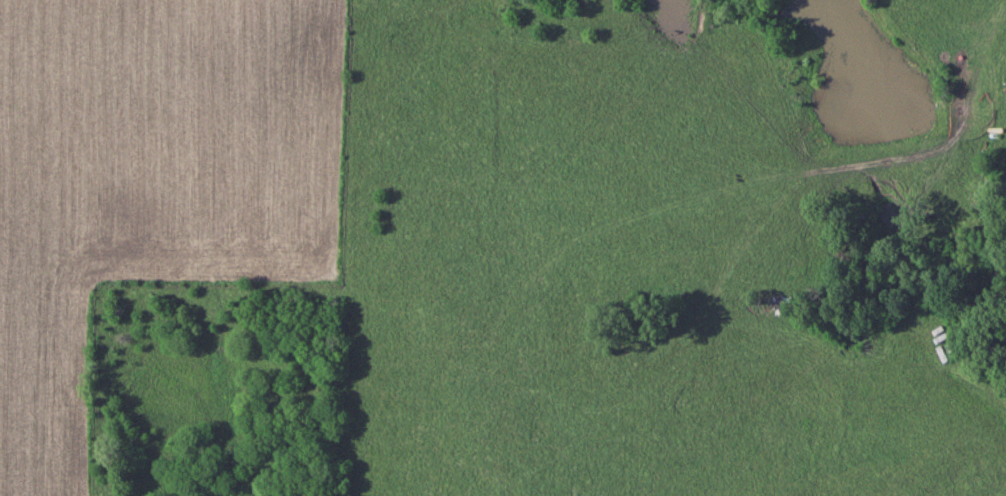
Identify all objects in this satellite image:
crop: (148, 179)

